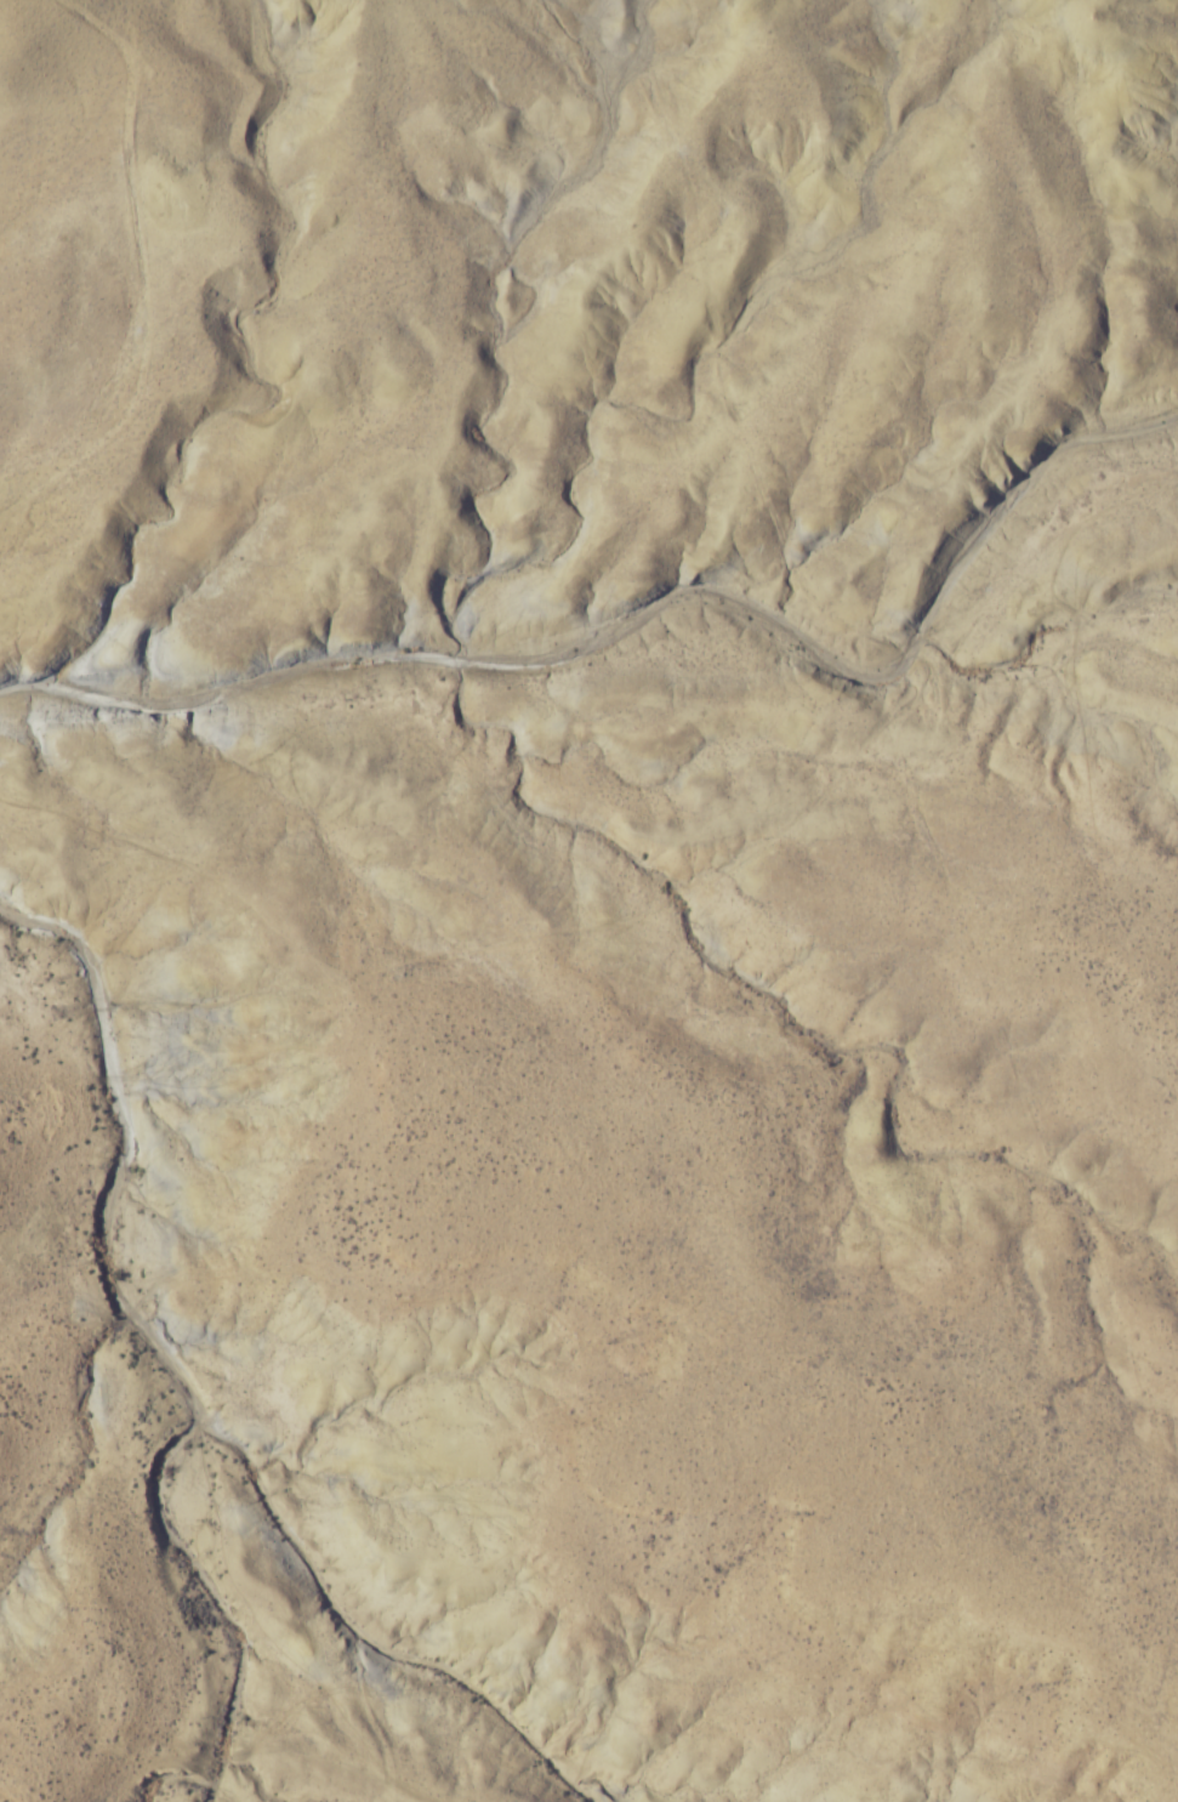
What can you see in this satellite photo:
road: (655, 621)

